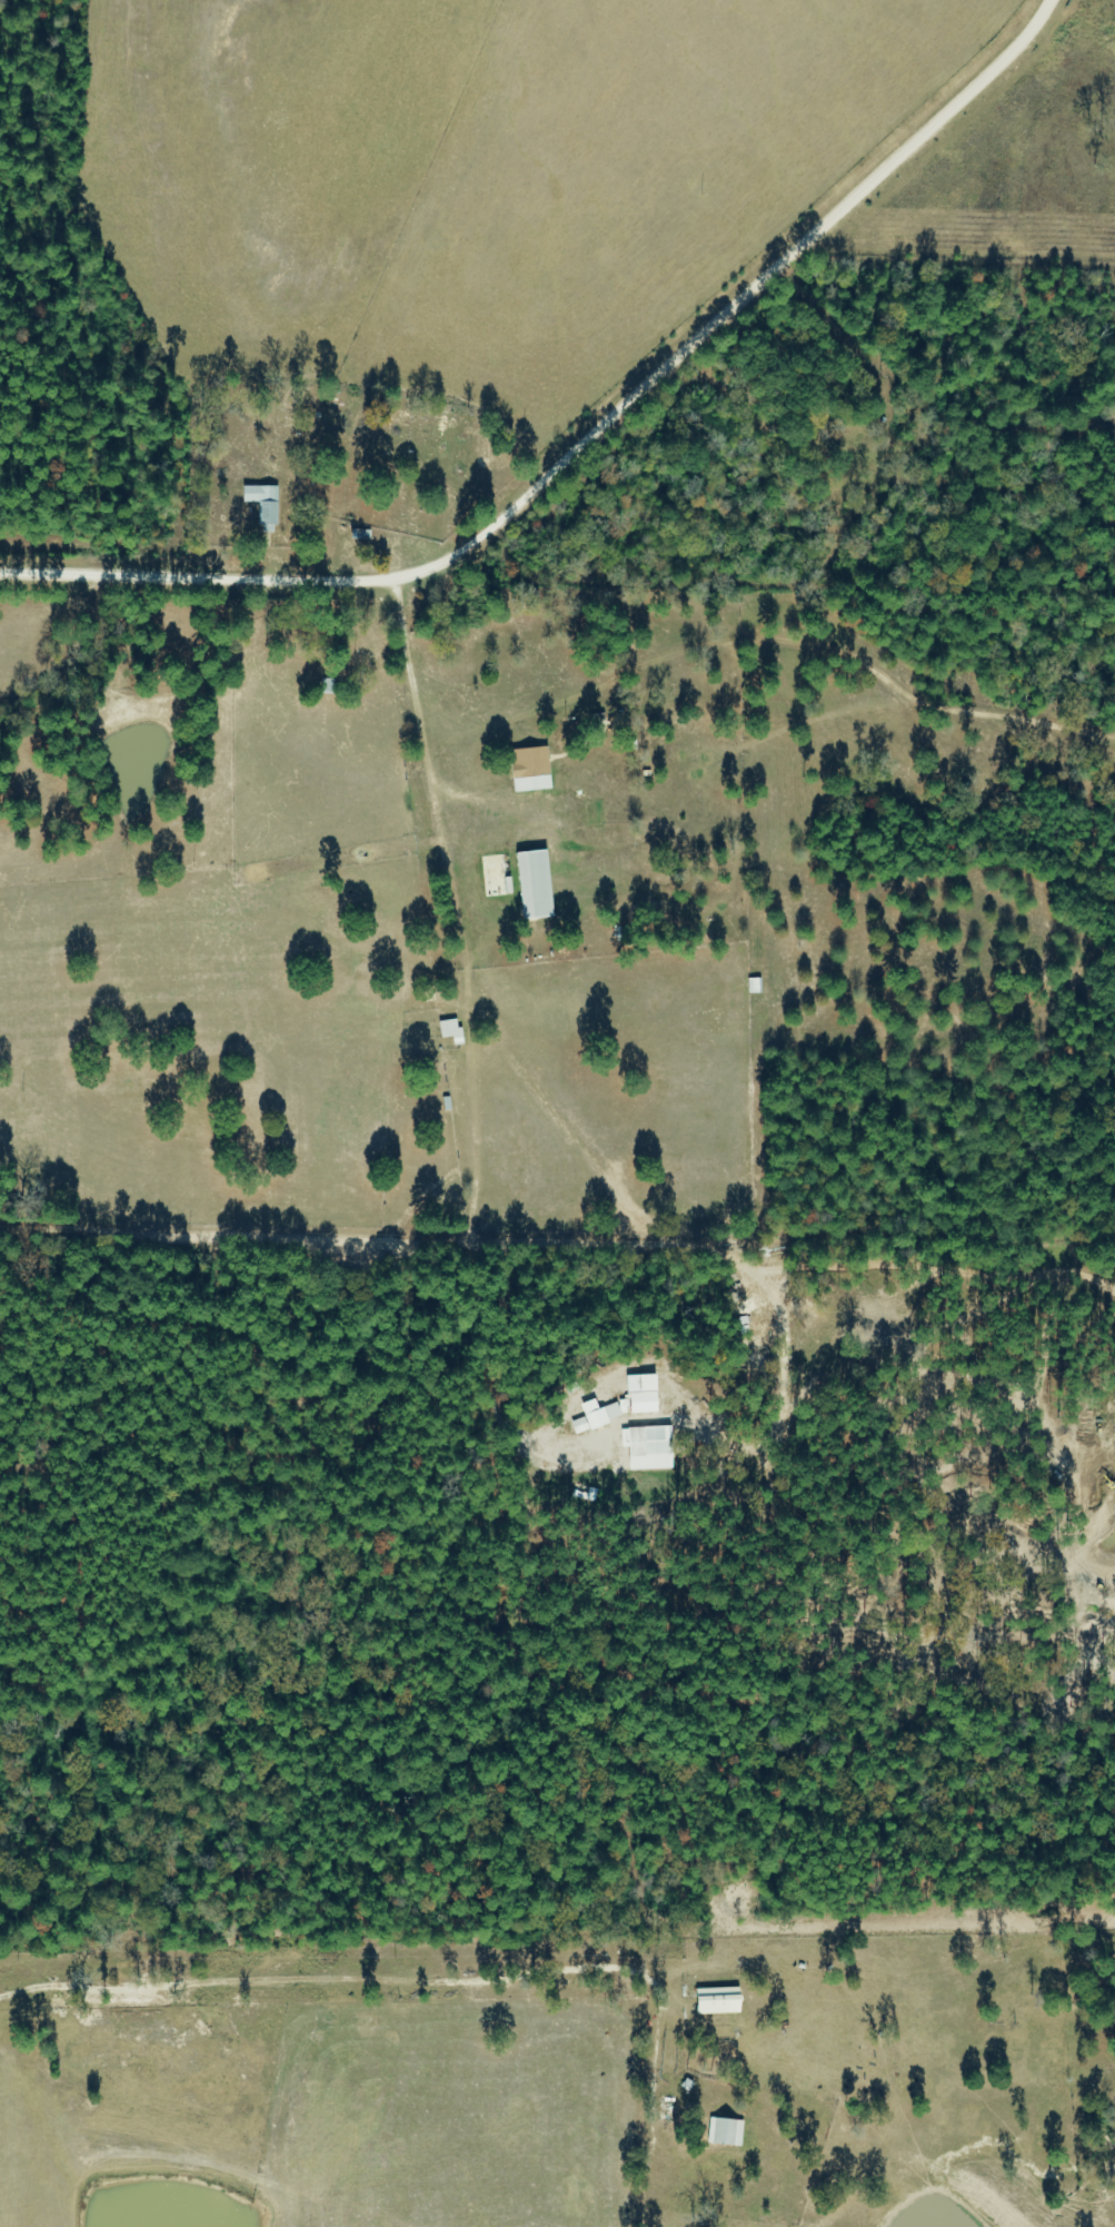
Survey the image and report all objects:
road: (586, 442)
park: (355, 448)
building: (265, 504)
building: (331, 687)
building: (529, 763)
building: (495, 878)
building: (536, 887)
road: (567, 1148)
building: (650, 1443)
building: (714, 2002)
building: (665, 2109)

